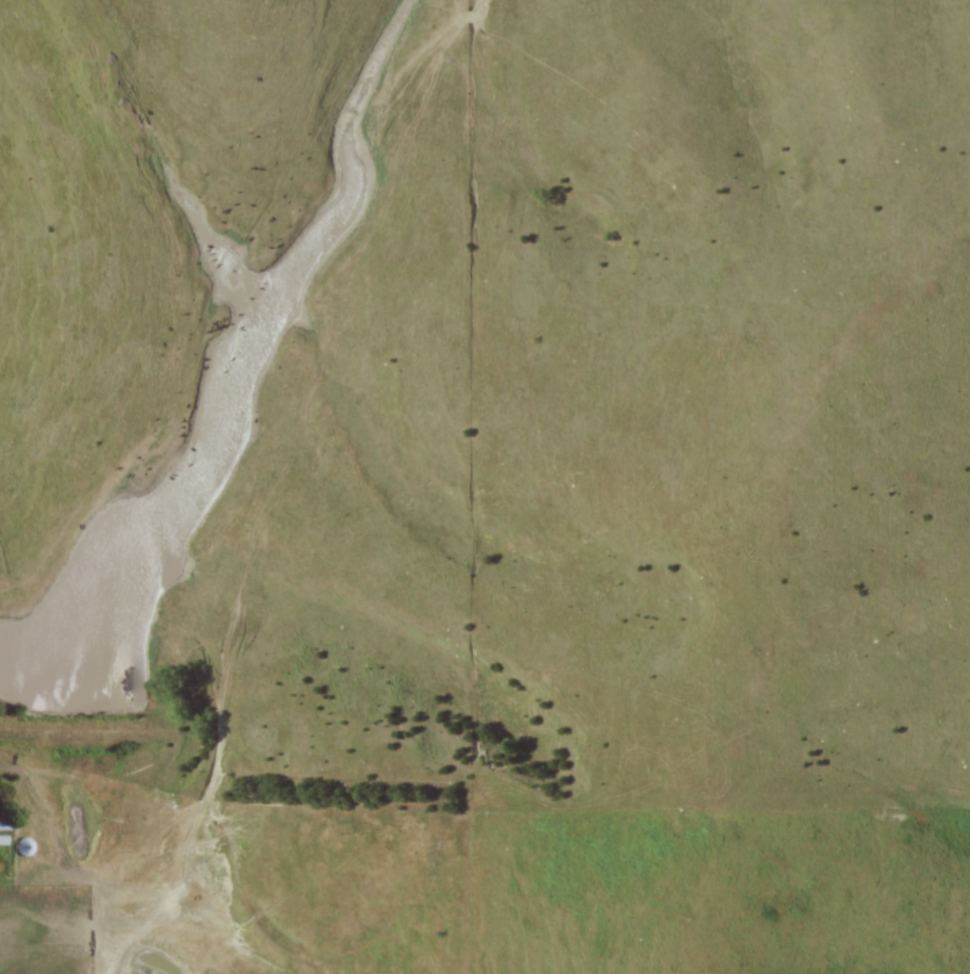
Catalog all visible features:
dam: (76, 728)
building: (7, 825)

